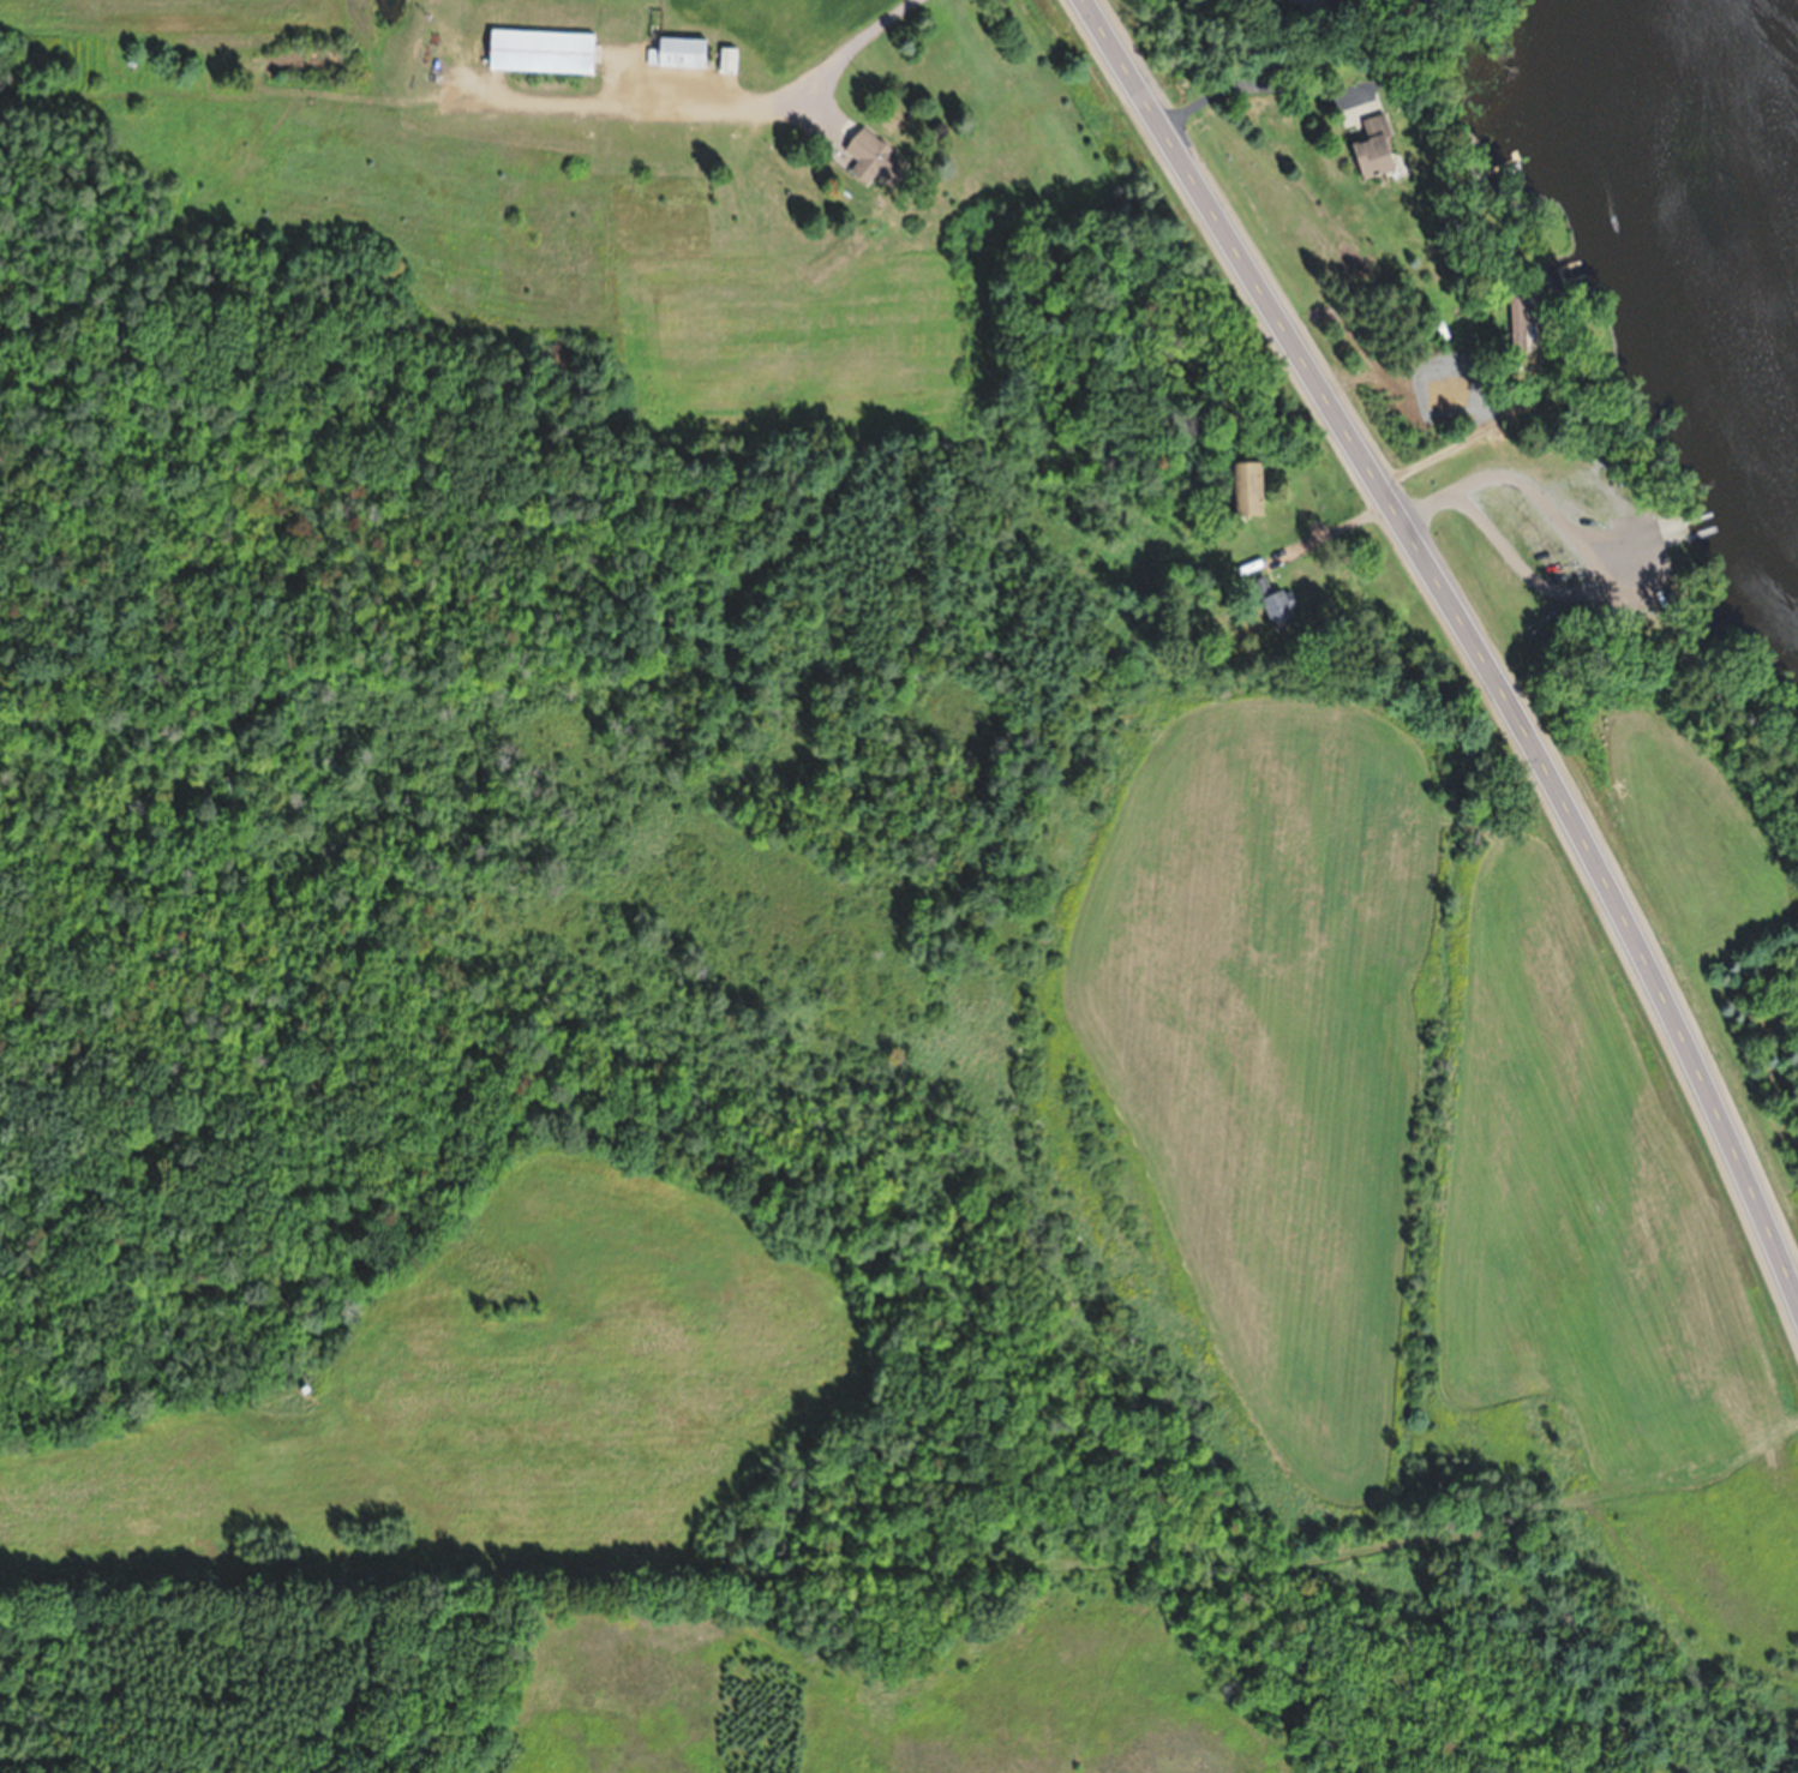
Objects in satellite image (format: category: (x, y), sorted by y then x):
building: (1295, 0)
building: (541, 50)
building: (678, 52)
building: (1374, 148)
building: (876, 158)
building: (1246, 489)
building: (1279, 607)
road: (1466, 636)

